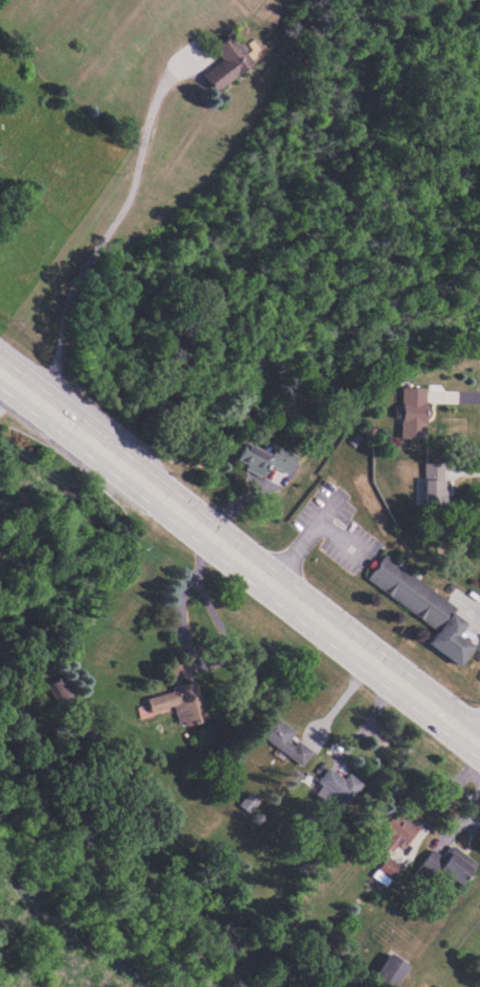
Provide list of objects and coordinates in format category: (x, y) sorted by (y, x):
building: (230, 63)
road: (103, 235)
road: (8, 394)
building: (415, 414)
building: (268, 460)
building: (436, 485)
road: (240, 557)
road: (177, 595)
building: (426, 609)
building: (181, 704)
building: (287, 742)
building: (341, 786)
building: (249, 804)
building: (397, 833)
building: (448, 867)
building: (387, 873)
park: (55, 947)
building: (392, 971)

